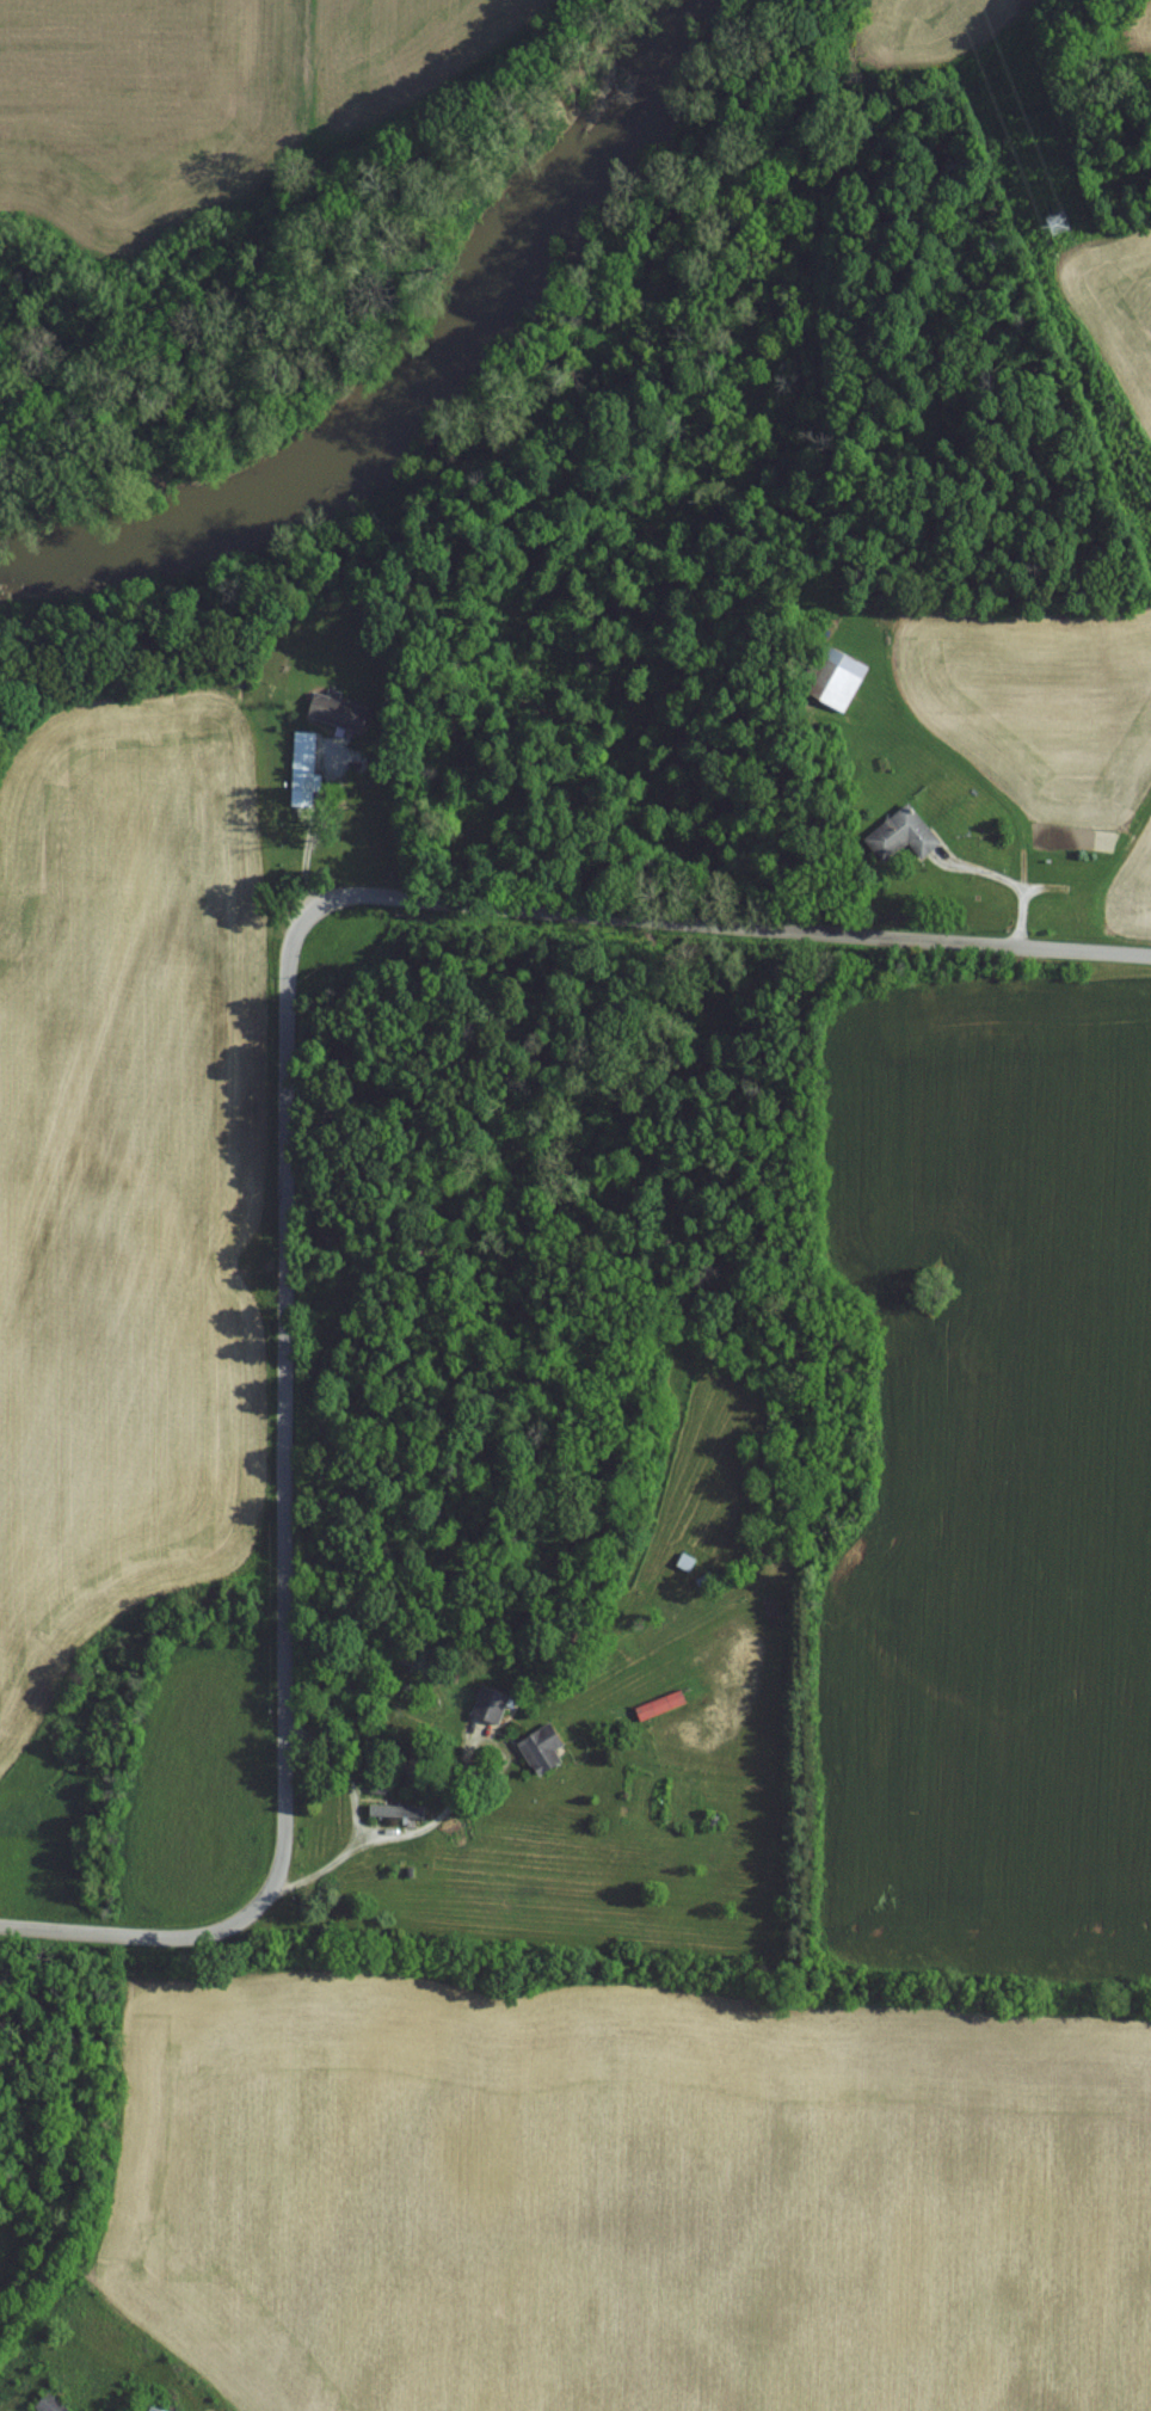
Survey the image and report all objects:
river: (424, 369)
building: (334, 712)
building: (298, 773)
road: (724, 935)
road: (277, 1431)
road: (388, 1840)
road: (121, 1936)
building: (47, 2403)
building: (148, 2409)

